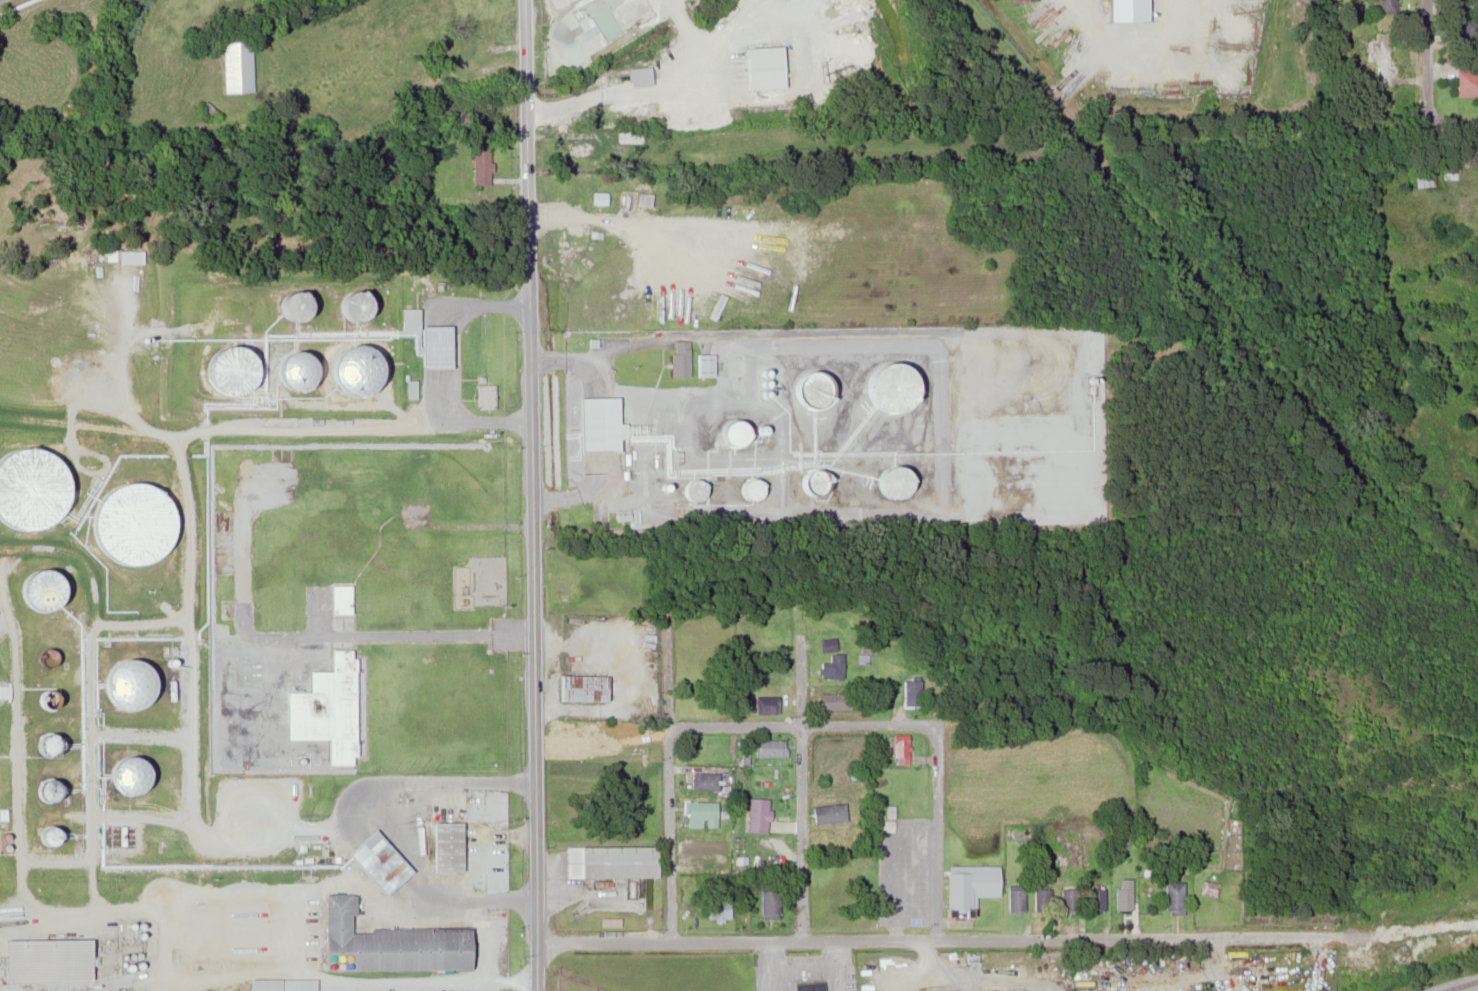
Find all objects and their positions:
building: (1386, 6)
road: (1418, 60)
building: (235, 66)
building: (1381, 66)
building: (758, 67)
building: (635, 76)
building: (1467, 82)
road: (1447, 119)
building: (581, 146)
building: (478, 167)
building: (296, 305)
building: (346, 306)
building: (424, 340)
building: (679, 358)
building: (702, 365)
building: (224, 371)
building: (353, 371)
building: (483, 396)
building: (596, 424)
building: (734, 432)
building: (752, 488)
road: (527, 495)
building: (827, 643)
building: (832, 666)
building: (138, 677)
building: (581, 687)
building: (2, 690)
building: (911, 692)
building: (833, 700)
building: (969, 701)
building: (765, 704)
road: (815, 726)
building: (770, 747)
building: (899, 749)
road: (660, 769)
road: (786, 771)
building: (703, 780)
building: (828, 812)
building: (700, 813)
building: (756, 814)
road: (931, 820)
building: (445, 845)
building: (373, 861)
building: (608, 861)
parking lot: (906, 868)
building: (967, 887)
building: (1123, 894)
building: (1173, 897)
building: (1094, 898)
building: (1015, 899)
building: (1041, 899)
building: (1069, 899)
building: (716, 907)
road: (986, 938)
building: (384, 942)
building: (45, 961)
building: (277, 984)
railway: (1456, 984)
building: (809, 986)
building: (978, 990)

